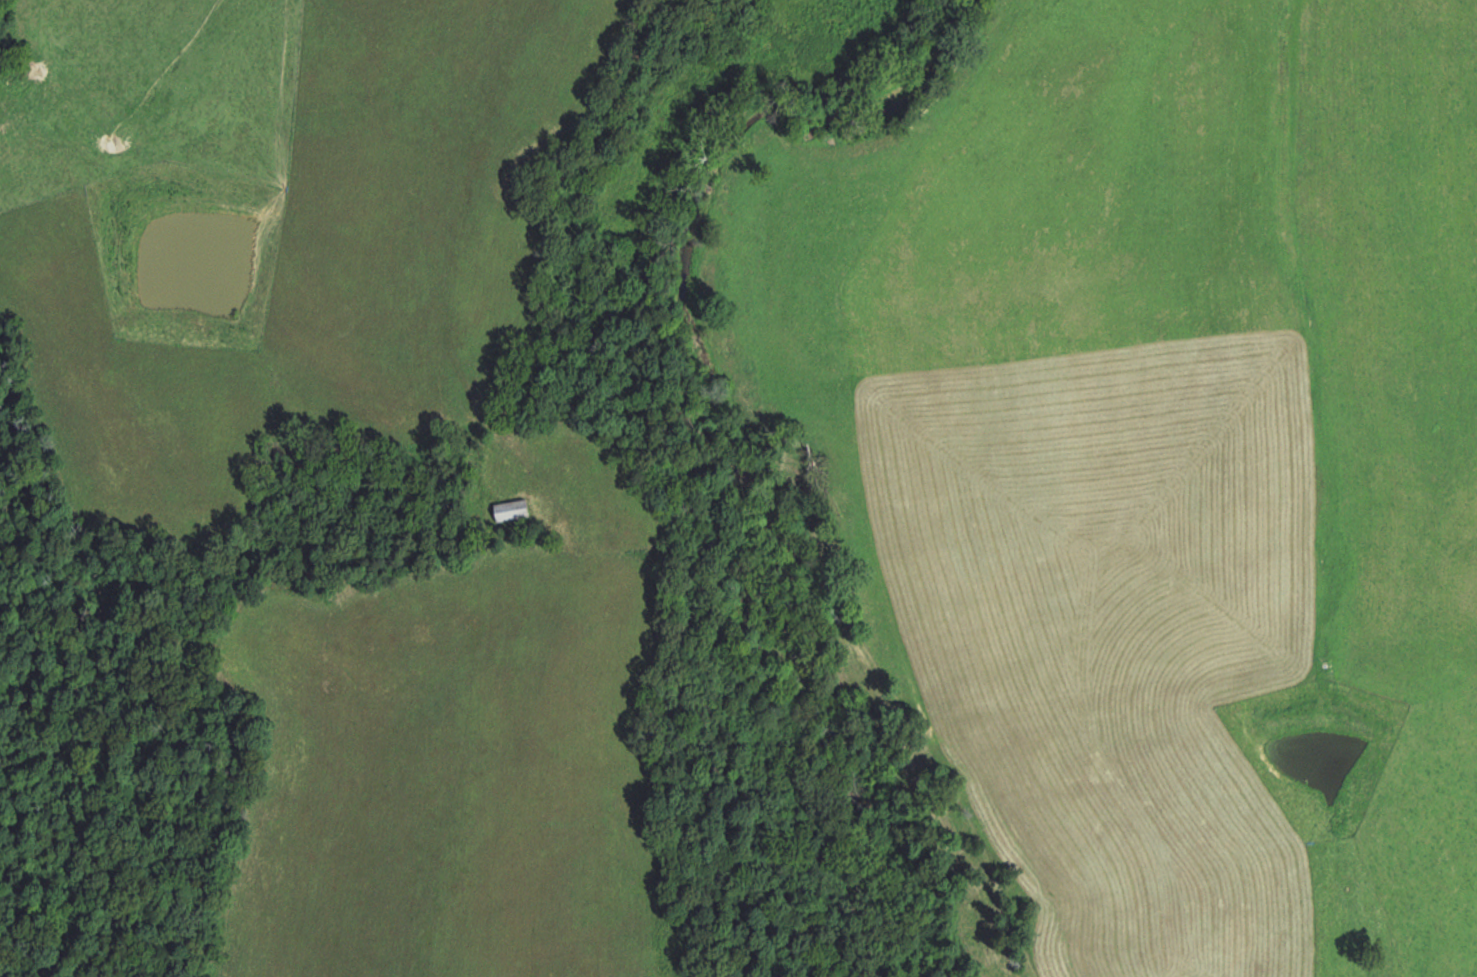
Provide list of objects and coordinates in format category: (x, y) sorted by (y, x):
building: (506, 510)

